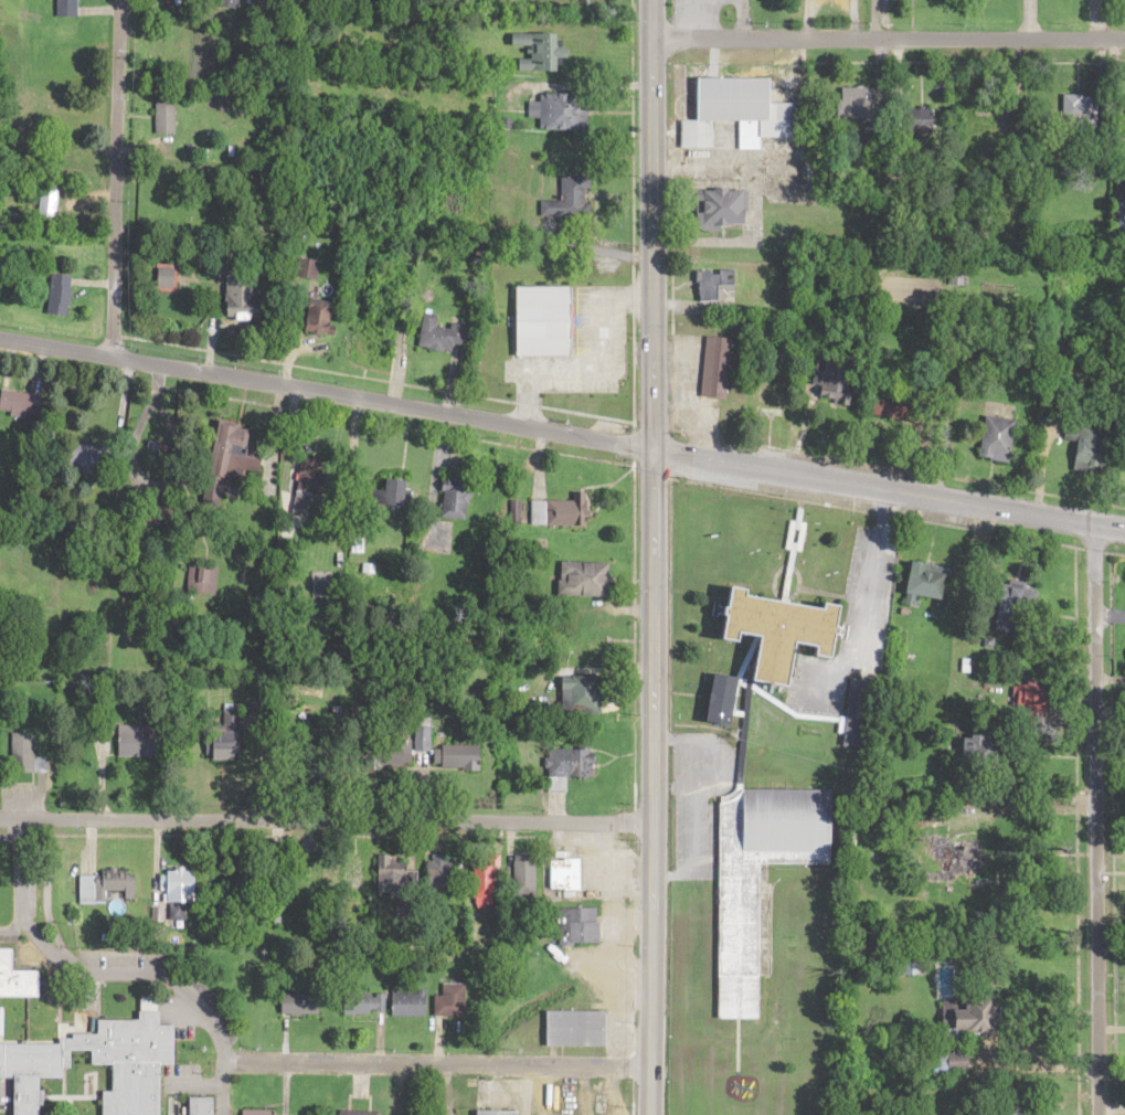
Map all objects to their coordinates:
building: (230, 4)
building: (67, 9)
road: (885, 49)
building: (544, 55)
building: (861, 106)
building: (563, 113)
building: (742, 114)
building: (166, 117)
road: (115, 180)
building: (571, 201)
building: (50, 206)
building: (726, 208)
road: (648, 225)
building: (311, 270)
building: (959, 284)
building: (718, 288)
building: (597, 296)
building: (62, 297)
building: (244, 301)
building: (321, 319)
building: (561, 331)
building: (441, 338)
building: (719, 370)
building: (595, 371)
building: (841, 381)
building: (775, 399)
building: (21, 406)
building: (891, 410)
road: (562, 435)
building: (1000, 443)
building: (1095, 450)
building: (235, 454)
building: (94, 463)
building: (316, 479)
building: (399, 496)
building: (459, 505)
building: (561, 514)
building: (586, 582)
building: (930, 585)
building: (1018, 607)
building: (779, 646)
building: (584, 698)
building: (1041, 701)
building: (861, 716)
building: (230, 736)
building: (144, 744)
building: (979, 753)
building: (26, 757)
building: (467, 761)
building: (569, 766)
road: (651, 783)
road: (1096, 821)
road: (326, 824)
building: (790, 824)
building: (963, 863)
building: (315, 870)
building: (569, 878)
building: (402, 879)
building: (528, 880)
building: (487, 886)
building: (108, 890)
building: (184, 890)
building: (581, 928)
building: (19, 970)
road: (112, 974)
building: (740, 997)
building: (453, 1005)
building: (410, 1006)
building: (301, 1007)
building: (365, 1007)
building: (974, 1020)
building: (577, 1032)
building: (141, 1049)
road: (436, 1069)
building: (259, 1114)
building: (491, 1114)

